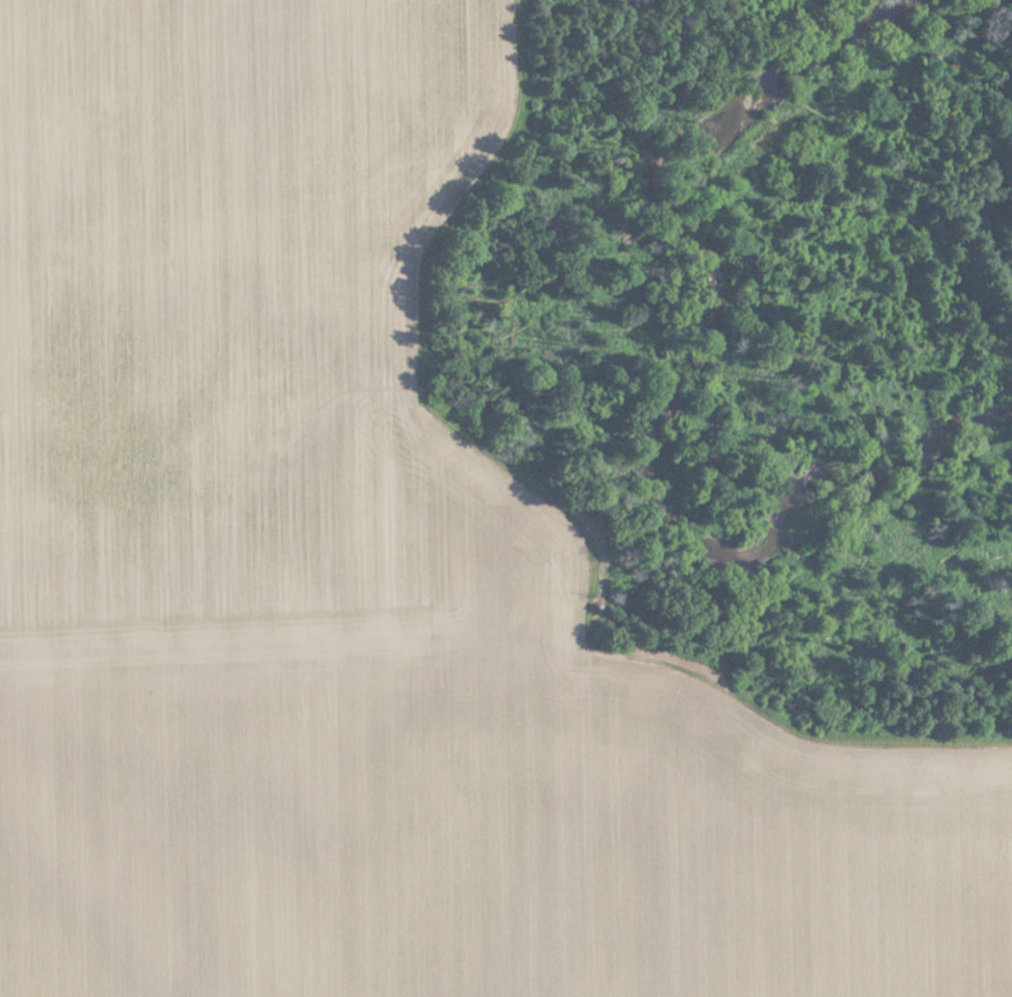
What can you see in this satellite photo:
river: (720, 347)

